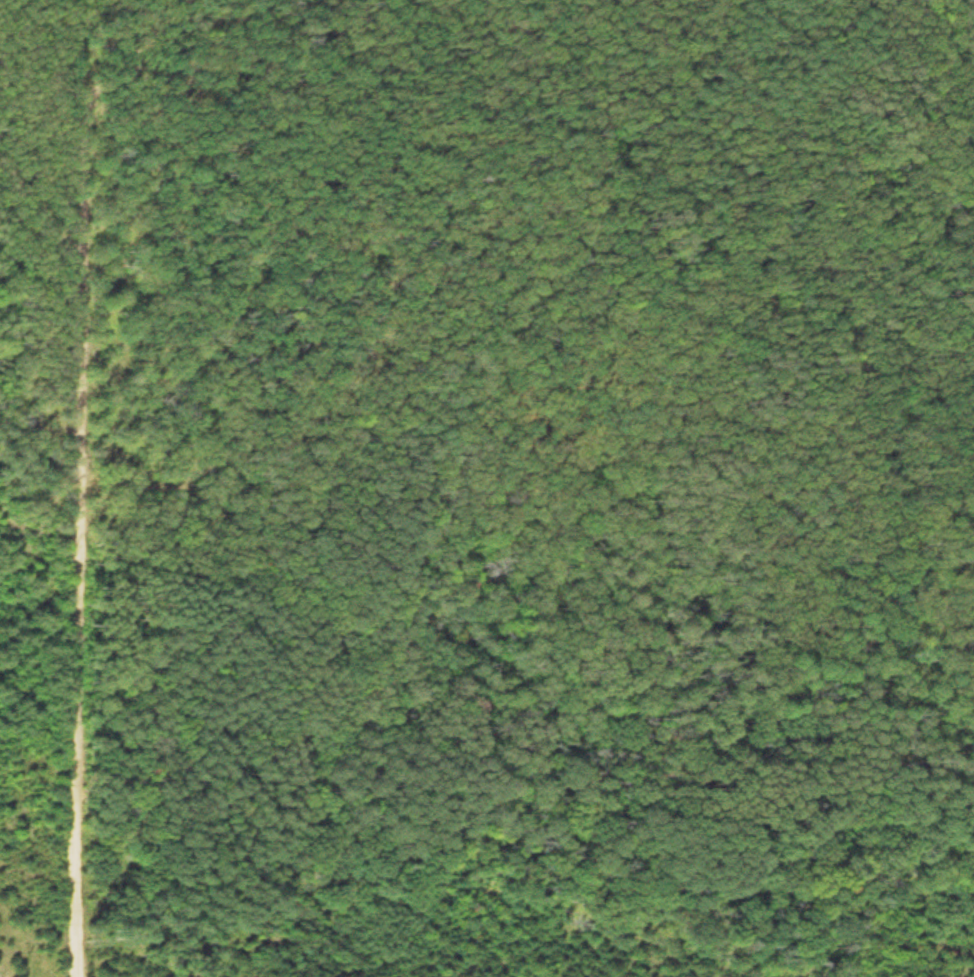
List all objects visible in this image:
road: (90, 127)
road: (84, 555)

